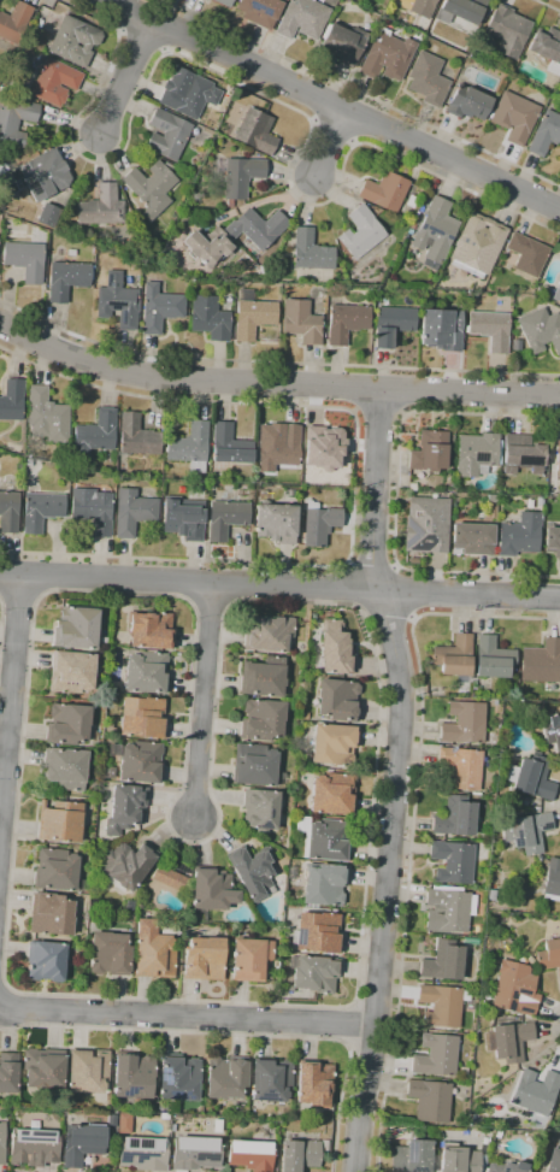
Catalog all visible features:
building: (205, 0)
building: (284, 0)
building: (223, 2)
road: (547, 5)
building: (418, 8)
building: (462, 10)
building: (259, 11)
building: (301, 19)
building: (14, 22)
building: (507, 30)
building: (73, 41)
building: (343, 42)
building: (547, 48)
building: (387, 57)
road: (125, 76)
building: (426, 79)
building: (54, 82)
building: (188, 93)
road: (261, 93)
road: (360, 93)
building: (467, 102)
road: (335, 105)
building: (514, 117)
building: (14, 123)
building: (255, 131)
building: (544, 134)
building: (167, 135)
road: (329, 143)
rooftop solar panel: (13, 175)
building: (35, 176)
building: (238, 176)
rooftop solar panel: (34, 187)
rooftop solar panel: (10, 188)
building: (151, 188)
building: (384, 192)
building: (411, 201)
building: (99, 207)
building: (48, 216)
rooftop solar panel: (420, 225)
rooftop solar panel: (434, 230)
building: (361, 232)
building: (435, 232)
building: (235, 235)
rooftop solar panel: (447, 236)
building: (478, 243)
building: (311, 252)
building: (526, 254)
building: (25, 260)
building: (67, 279)
building: (556, 293)
building: (117, 301)
rooftop solar panel: (114, 305)
building: (159, 308)
building: (253, 316)
building: (208, 318)
building: (301, 322)
building: (346, 322)
building: (391, 324)
building: (441, 329)
building: (490, 329)
building: (540, 330)
building: (515, 344)
road: (275, 360)
road: (275, 383)
road: (355, 389)
road: (408, 389)
building: (12, 400)
road: (378, 412)
road: (483, 414)
building: (47, 417)
building: (95, 434)
building: (137, 436)
building: (229, 444)
building: (190, 446)
building: (277, 446)
building: (323, 447)
building: (430, 452)
building: (476, 454)
building: (524, 454)
building: (558, 457)
rooftop solar panel: (481, 458)
road: (354, 479)
building: (412, 487)
building: (92, 508)
building: (41, 510)
building: (8, 512)
building: (132, 512)
building: (184, 518)
building: (225, 518)
building: (276, 522)
building: (319, 523)
building: (426, 525)
rooftop solar panel: (414, 528)
building: (519, 535)
building: (472, 538)
rooftop solar panel: (411, 540)
building: (552, 541)
rooftop solar panel: (425, 543)
road: (347, 565)
road: (394, 566)
road: (401, 566)
road: (370, 567)
road: (36, 573)
road: (279, 584)
road: (348, 585)
road: (397, 591)
road: (18, 593)
road: (39, 596)
road: (210, 608)
road: (383, 612)
road: (485, 616)
road: (409, 617)
building: (76, 628)
building: (151, 630)
building: (267, 634)
building: (335, 648)
building: (455, 655)
building: (493, 659)
building: (541, 661)
building: (71, 672)
building: (146, 672)
road: (191, 672)
building: (263, 677)
building: (337, 699)
road: (204, 700)
road: (11, 702)
building: (142, 717)
building: (261, 719)
building: (464, 722)
building: (67, 724)
building: (332, 743)
building: (555, 743)
building: (138, 760)
building: (257, 765)
building: (461, 767)
building: (65, 768)
building: (531, 776)
road: (395, 779)
building: (331, 793)
building: (515, 801)
building: (124, 808)
building: (260, 808)
building: (455, 817)
building: (60, 821)
building: (527, 831)
building: (324, 838)
building: (453, 861)
building: (125, 865)
building: (181, 866)
building: (55, 870)
building: (253, 871)
building: (170, 878)
building: (552, 879)
building: (82, 884)
building: (324, 885)
building: (211, 893)
building: (491, 894)
road: (406, 895)
building: (505, 899)
building: (129, 905)
building: (448, 909)
building: (51, 914)
building: (317, 934)
building: (154, 948)
building: (110, 953)
building: (548, 954)
building: (204, 959)
building: (250, 959)
building: (46, 960)
building: (530, 960)
building: (443, 961)
building: (313, 973)
building: (514, 989)
rooftop solar panel: (524, 994)
road: (377, 996)
rooftop solar panel: (509, 996)
building: (441, 1005)
rooftop solar panel: (507, 1008)
rooftop solar panel: (523, 1008)
road: (187, 1017)
road: (552, 1024)
road: (346, 1025)
road: (237, 1035)
building: (507, 1041)
road: (371, 1050)
building: (436, 1055)
building: (43, 1067)
building: (88, 1071)
building: (8, 1072)
building: (132, 1077)
building: (178, 1077)
building: (226, 1077)
rooftop solar panel: (165, 1078)
building: (271, 1080)
building: (314, 1083)
building: (536, 1091)
rooftop solar panel: (176, 1094)
rooftop solar panel: (189, 1094)
building: (430, 1100)
building: (164, 1115)
building: (111, 1120)
building: (124, 1123)
building: (1, 1142)
building: (82, 1143)
rooftop solar panel: (134, 1143)
rooftop solar panel: (146, 1144)
building: (324, 1146)
building: (34, 1147)
building: (143, 1153)
building: (195, 1153)
building: (553, 1154)
building: (250, 1155)
building: (299, 1155)
rooftop solar panel: (129, 1156)
building: (412, 1156)
building: (460, 1160)
building: (505, 1165)

